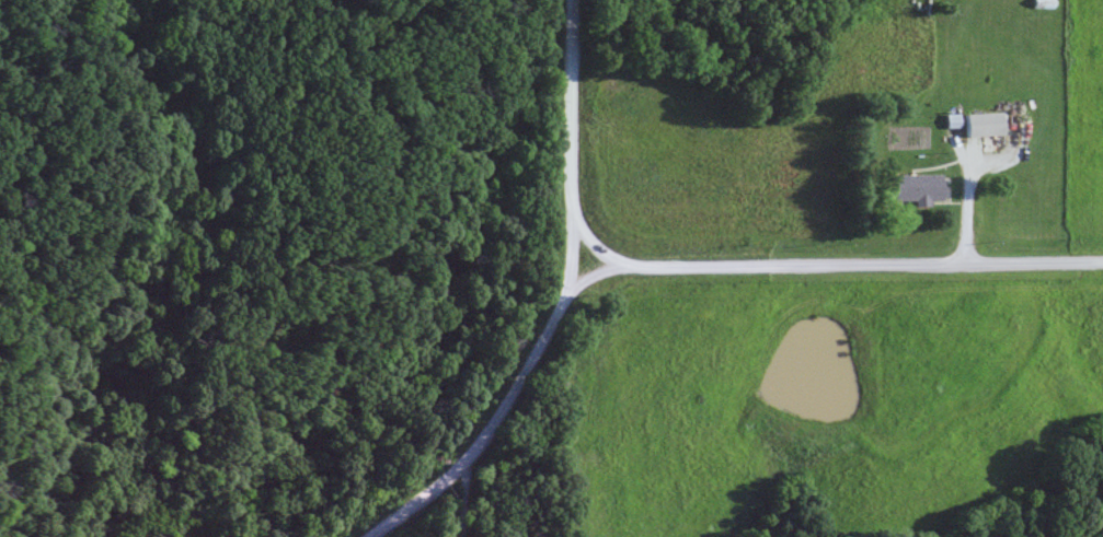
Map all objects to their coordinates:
building: (951, 119)
building: (981, 122)
road: (571, 130)
building: (915, 187)
road: (850, 259)
road: (499, 407)

